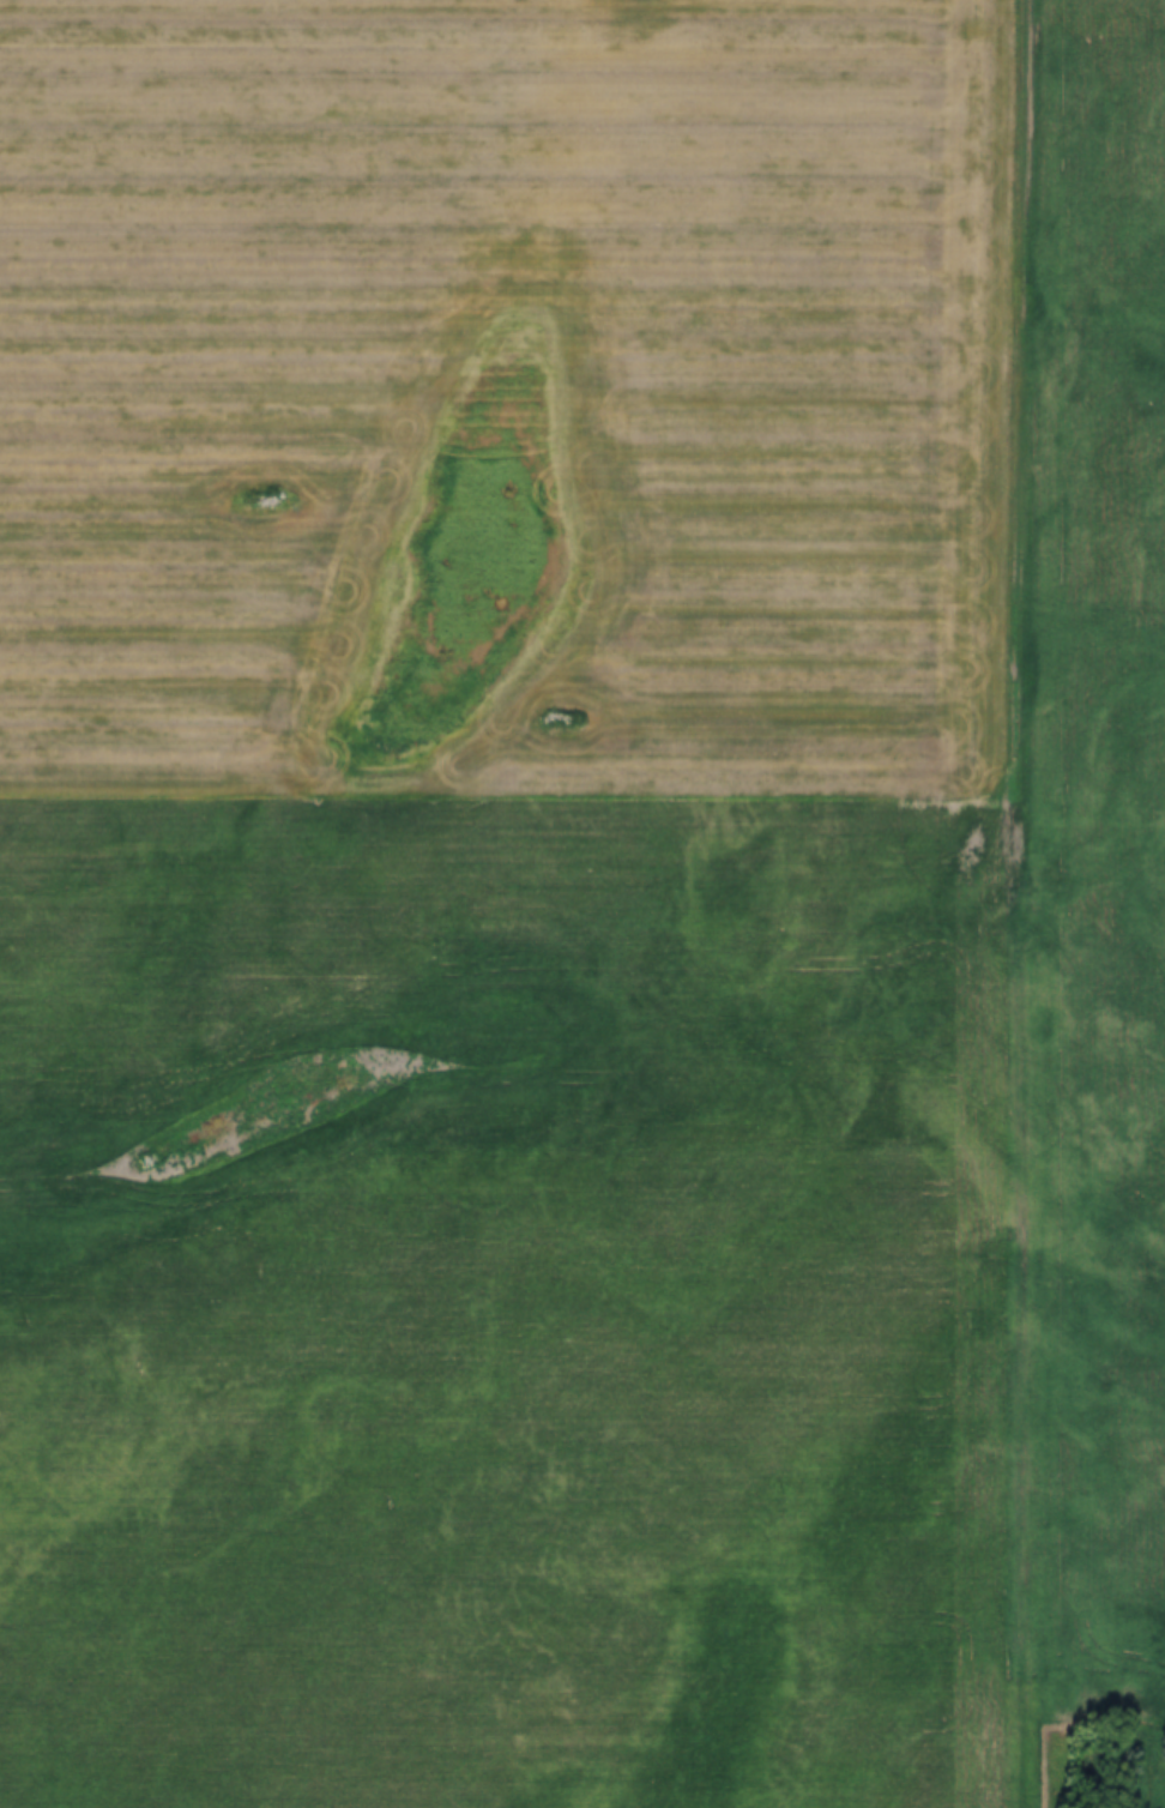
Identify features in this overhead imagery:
road: (1015, 900)

